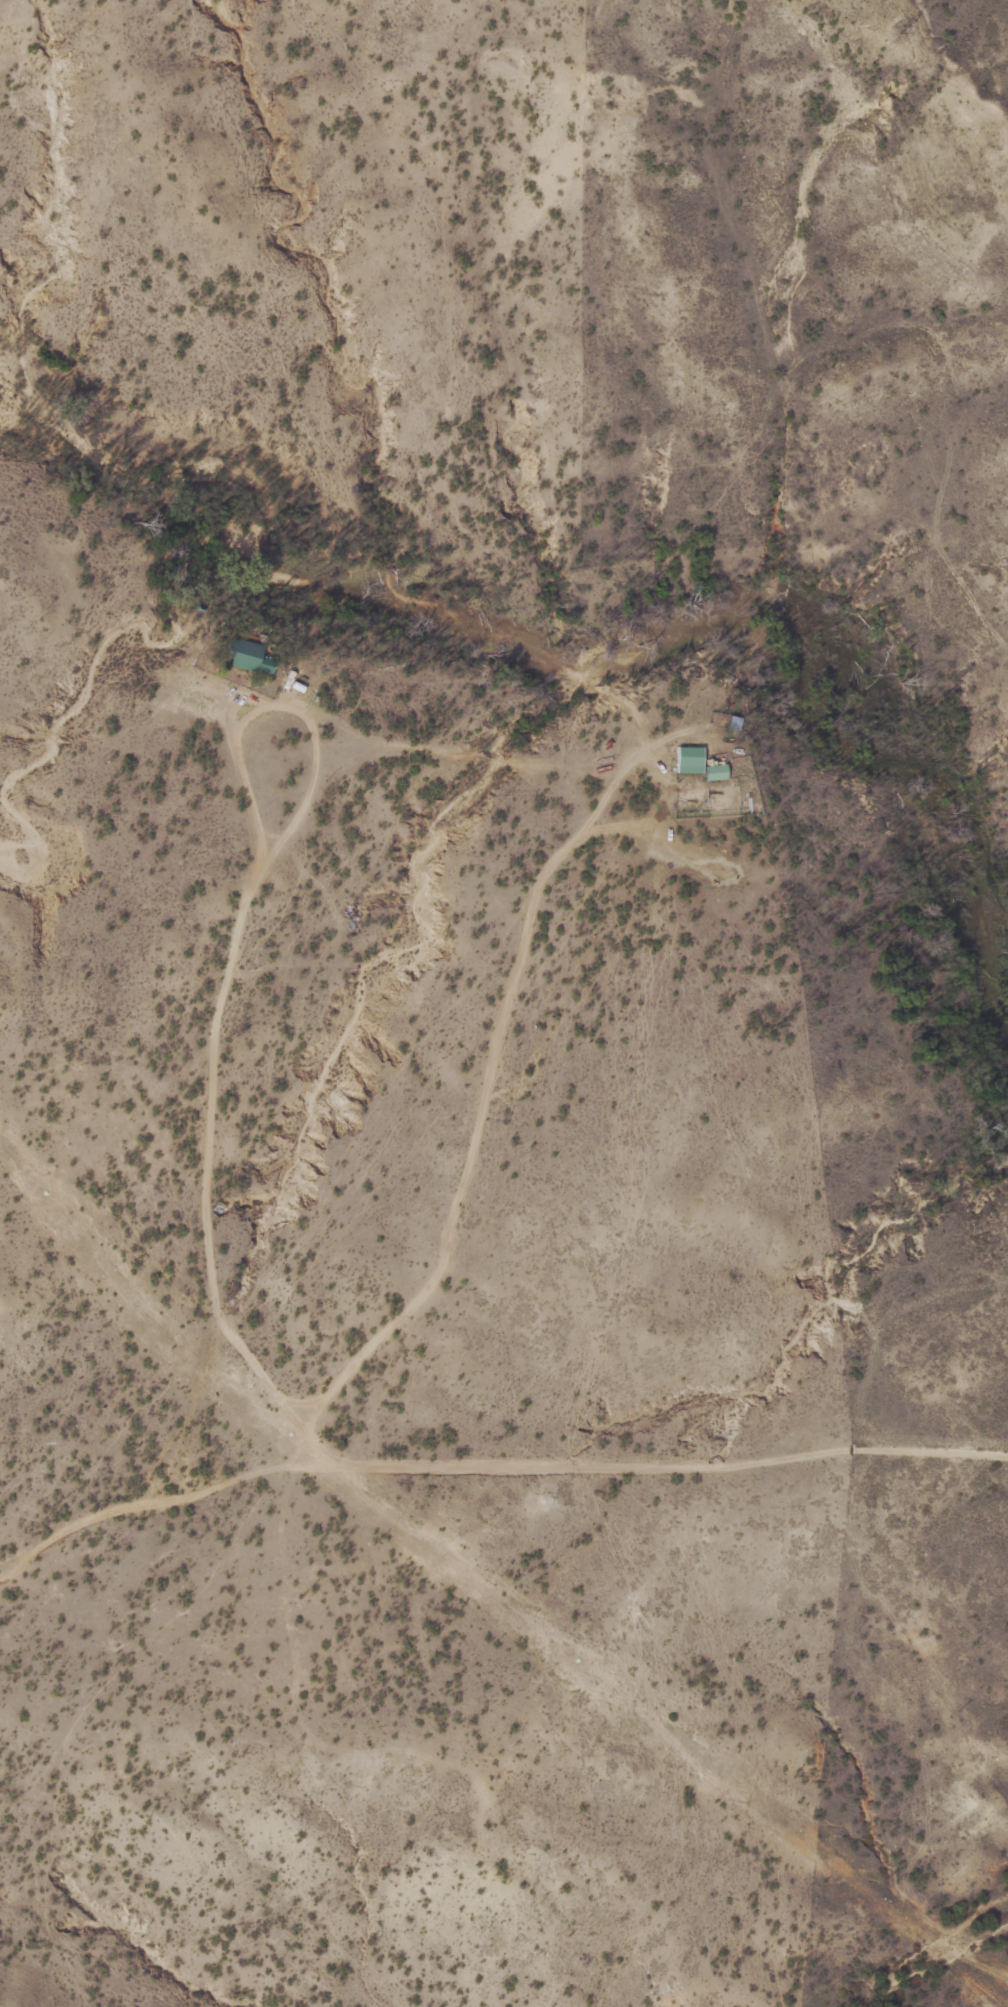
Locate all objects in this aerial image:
power tower: (900, 30)

